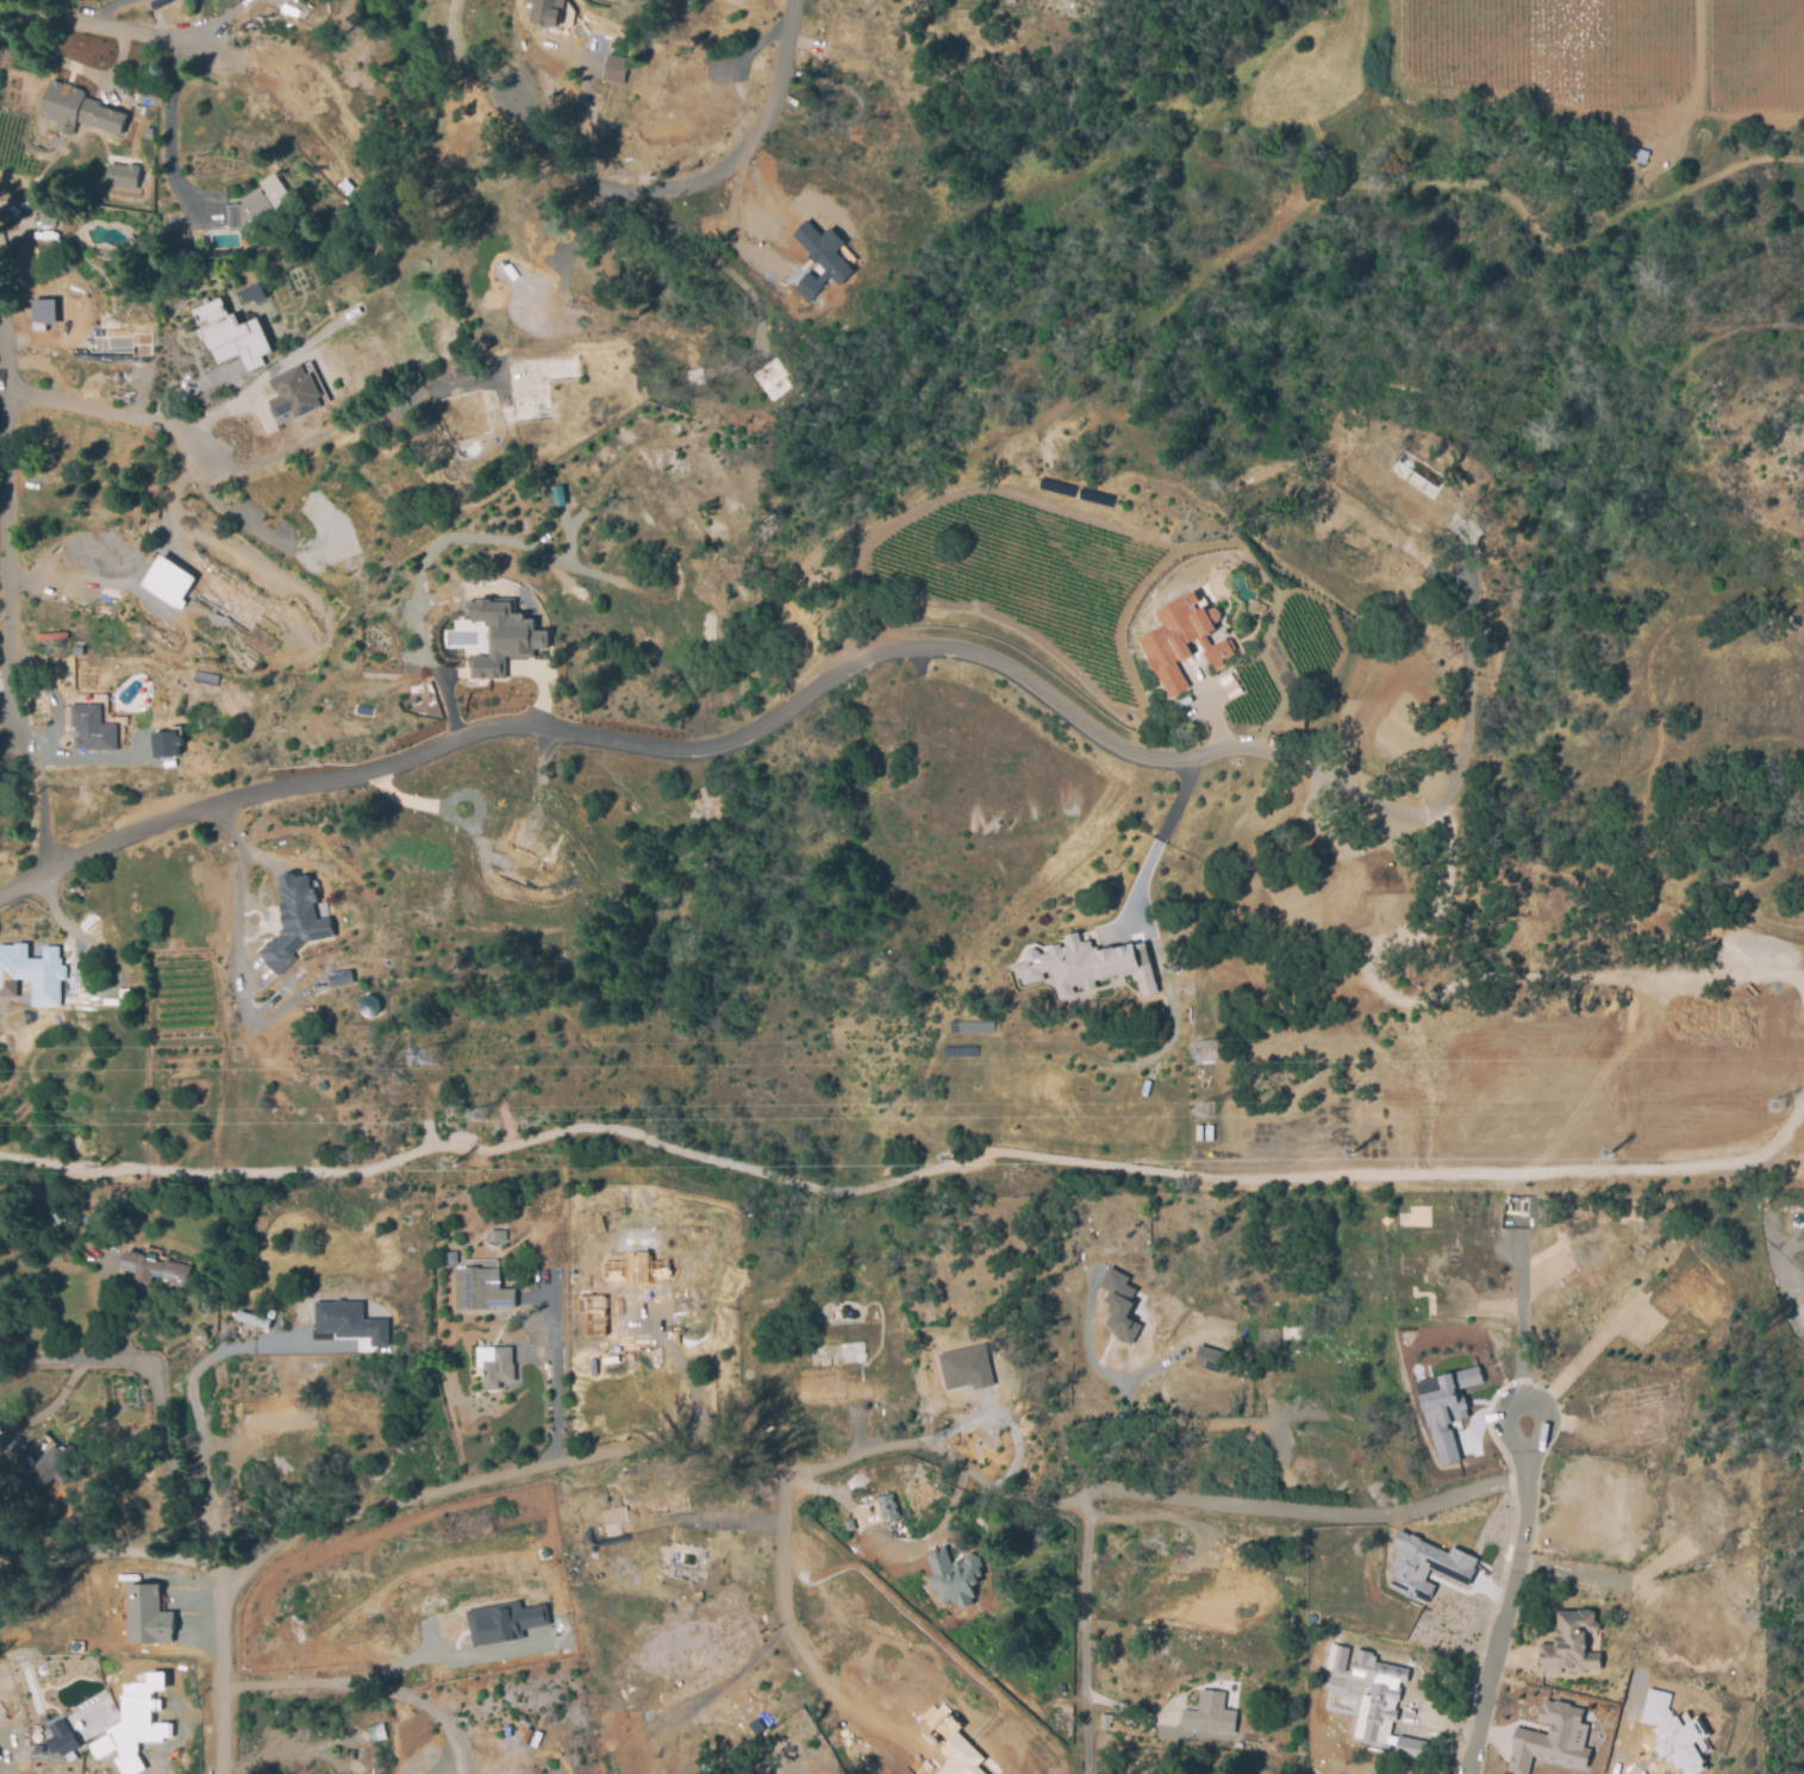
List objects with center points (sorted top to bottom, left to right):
road: (108, 11)
building: (545, 11)
road: (94, 32)
building: (613, 61)
road: (579, 98)
building: (74, 110)
road: (173, 131)
building: (119, 175)
building: (275, 182)
road: (691, 182)
road: (729, 225)
building: (177, 230)
building: (818, 258)
building: (255, 283)
building: (42, 312)
building: (227, 336)
building: (293, 392)
road: (113, 417)
road: (314, 441)
building: (1421, 460)
building: (555, 496)
road: (175, 514)
road: (7, 561)
building: (168, 581)
building: (511, 624)
building: (1192, 631)
road: (1462, 695)
building: (1292, 720)
building: (88, 729)
road: (747, 738)
building: (164, 744)
road: (1156, 843)
road: (20, 876)
road: (239, 885)
building: (292, 924)
building: (1088, 954)
building: (32, 973)
building: (336, 979)
building: (367, 1005)
power tower: (1201, 1052)
power tower: (423, 1058)
power tower: (1772, 1108)
power tower: (1200, 1113)
power tower: (473, 1119)
power tower: (566, 1158)
power tower: (1309, 1160)
power tower: (1006, 1166)
road: (907, 1174)
power substation: (1518, 1213)
building: (497, 1233)
road: (1780, 1239)
building: (449, 1255)
building: (189, 1258)
building: (155, 1269)
building: (570, 1281)
building: (480, 1287)
building: (1118, 1305)
building: (249, 1322)
building: (345, 1323)
road: (1522, 1325)
building: (1209, 1358)
building: (497, 1366)
road: (196, 1368)
building: (965, 1368)
building: (1468, 1376)
road: (688, 1380)
building: (1441, 1397)
road: (1523, 1401)
road: (158, 1411)
road: (555, 1414)
road: (1167, 1424)
building: (1444, 1447)
road: (561, 1461)
building: (50, 1468)
road: (819, 1487)
building: (887, 1505)
road: (1301, 1508)
road: (1142, 1517)
road: (737, 1523)
road: (108, 1551)
building: (1424, 1567)
building: (162, 1575)
building: (953, 1578)
road: (1503, 1614)
building: (143, 1618)
building: (504, 1620)
road: (1085, 1637)
road: (797, 1643)
building: (1571, 1649)
building: (616, 1656)
building: (1335, 1657)
road: (738, 1670)
road: (364, 1687)
road: (876, 1698)
building: (1375, 1698)
building: (1210, 1714)
building: (136, 1724)
building: (375, 1731)
building: (1669, 1734)
building: (35, 1736)
building: (62, 1736)
building: (1549, 1738)
road: (316, 1742)
building: (1410, 1747)
building: (959, 1757)

